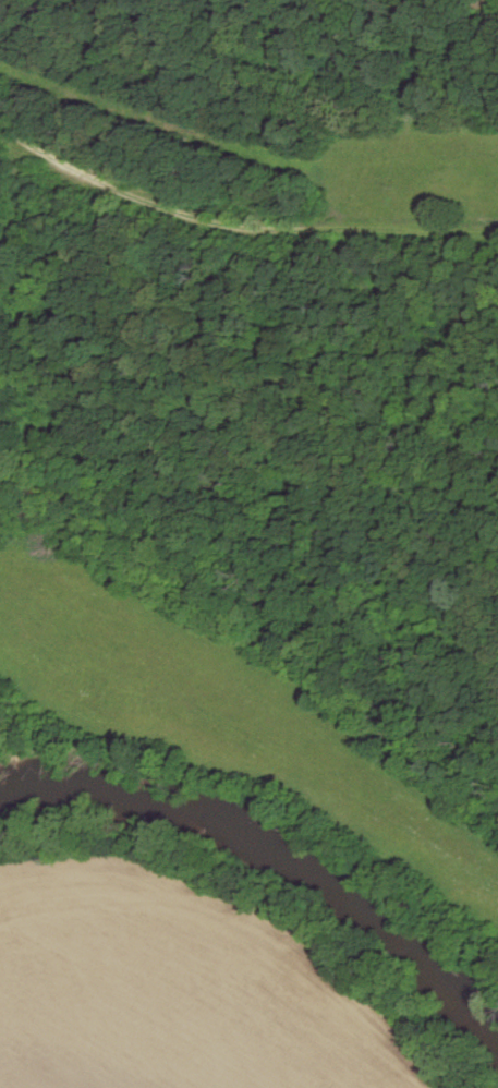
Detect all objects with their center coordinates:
river: (279, 837)

